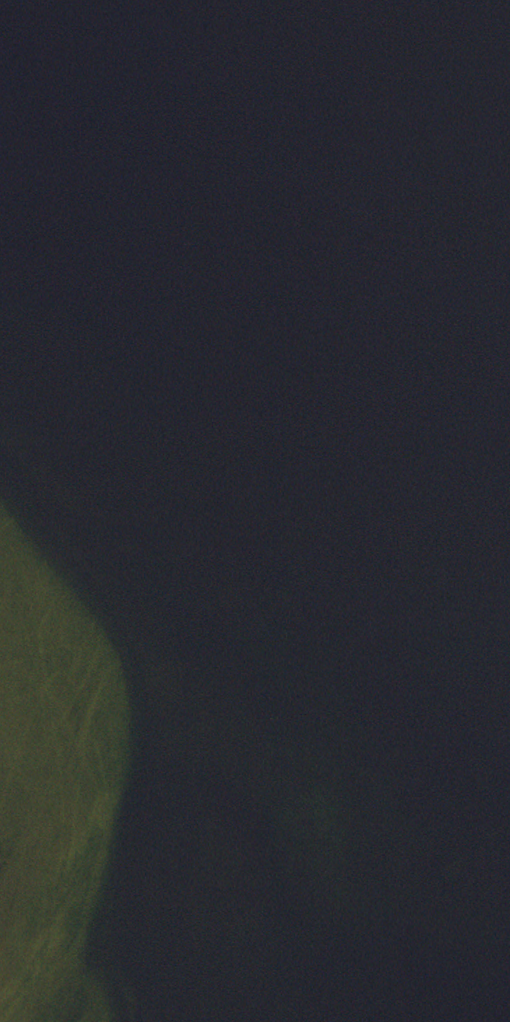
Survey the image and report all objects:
river: (402, 833)

